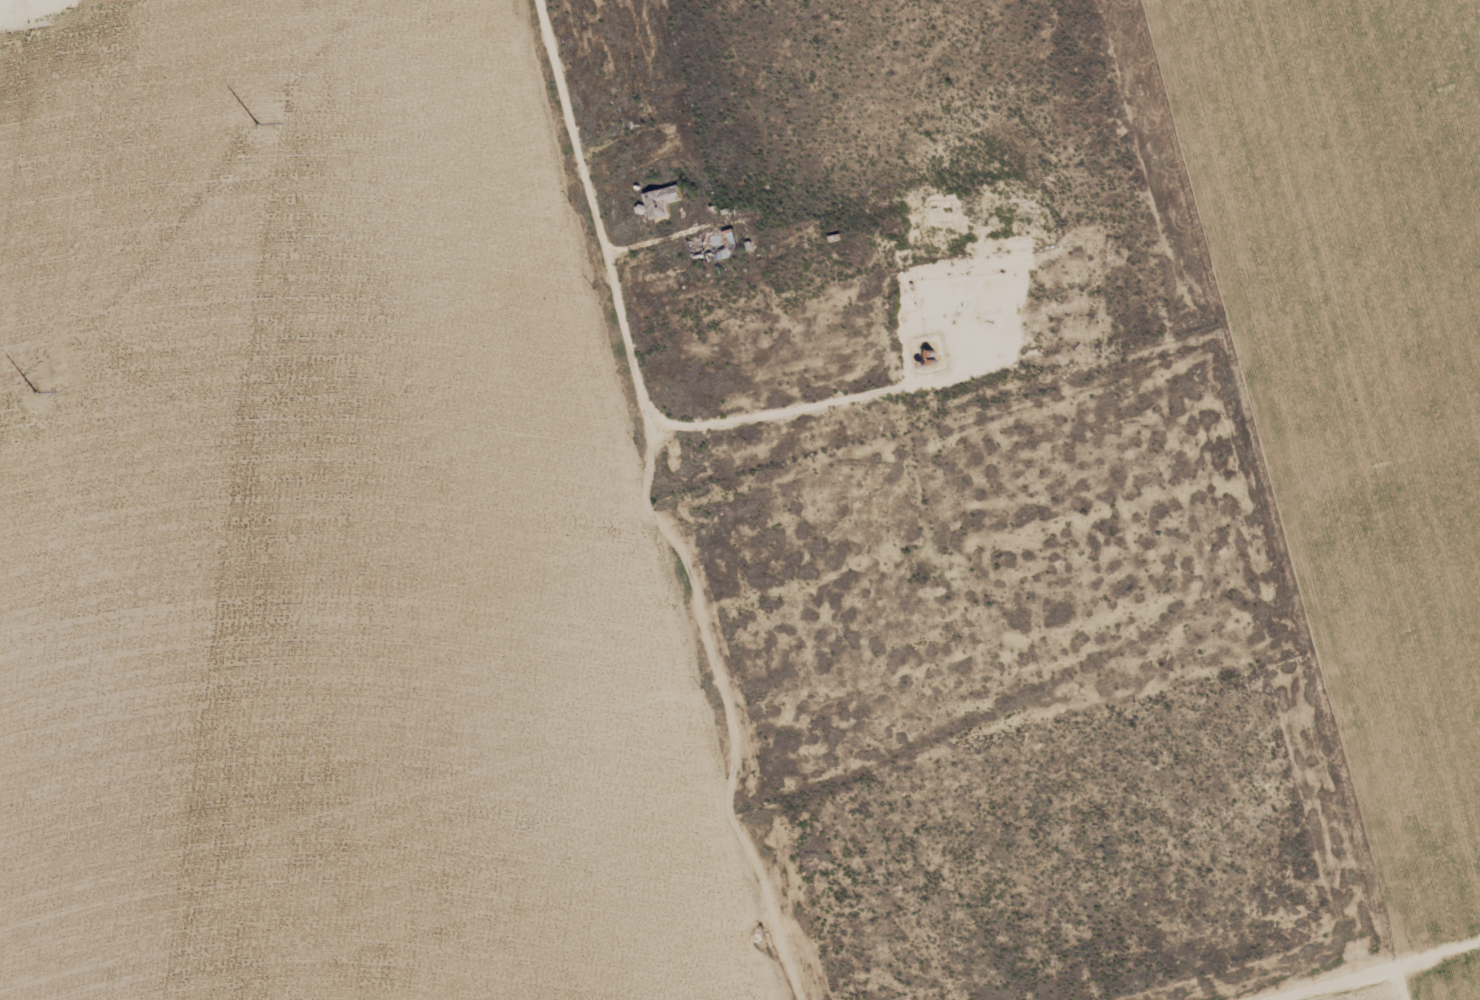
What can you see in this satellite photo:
power tower: (263, 117)
building: (660, 199)
road: (653, 384)
power tower: (41, 385)

